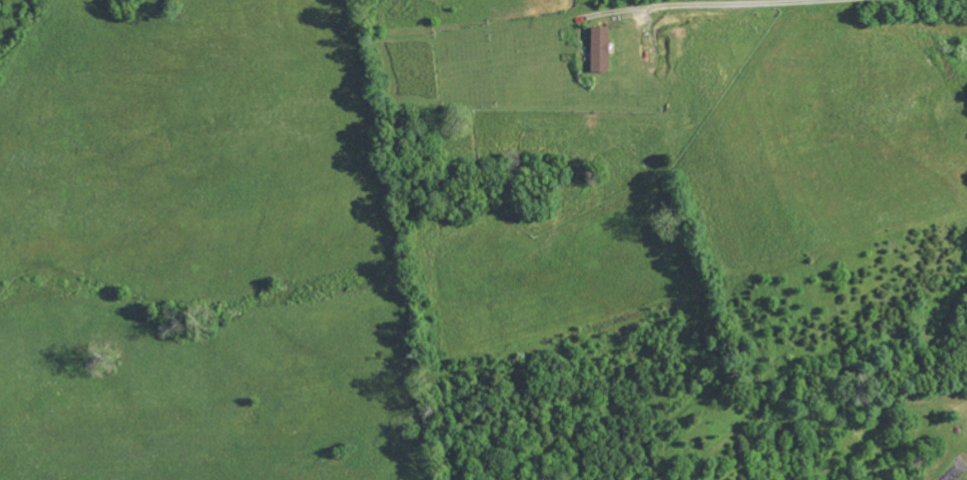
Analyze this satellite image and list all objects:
road: (651, 2)
building: (600, 49)

